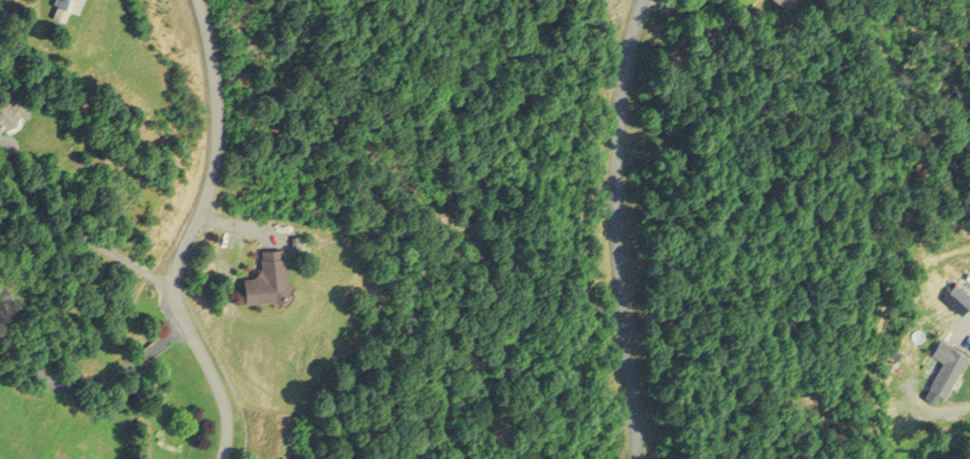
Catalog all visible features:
road: (664, 5)
building: (63, 6)
building: (11, 110)
road: (617, 228)
road: (186, 236)
road: (78, 239)
building: (265, 274)
building: (955, 299)
road: (178, 325)
road: (150, 346)
road: (44, 364)
building: (944, 366)

